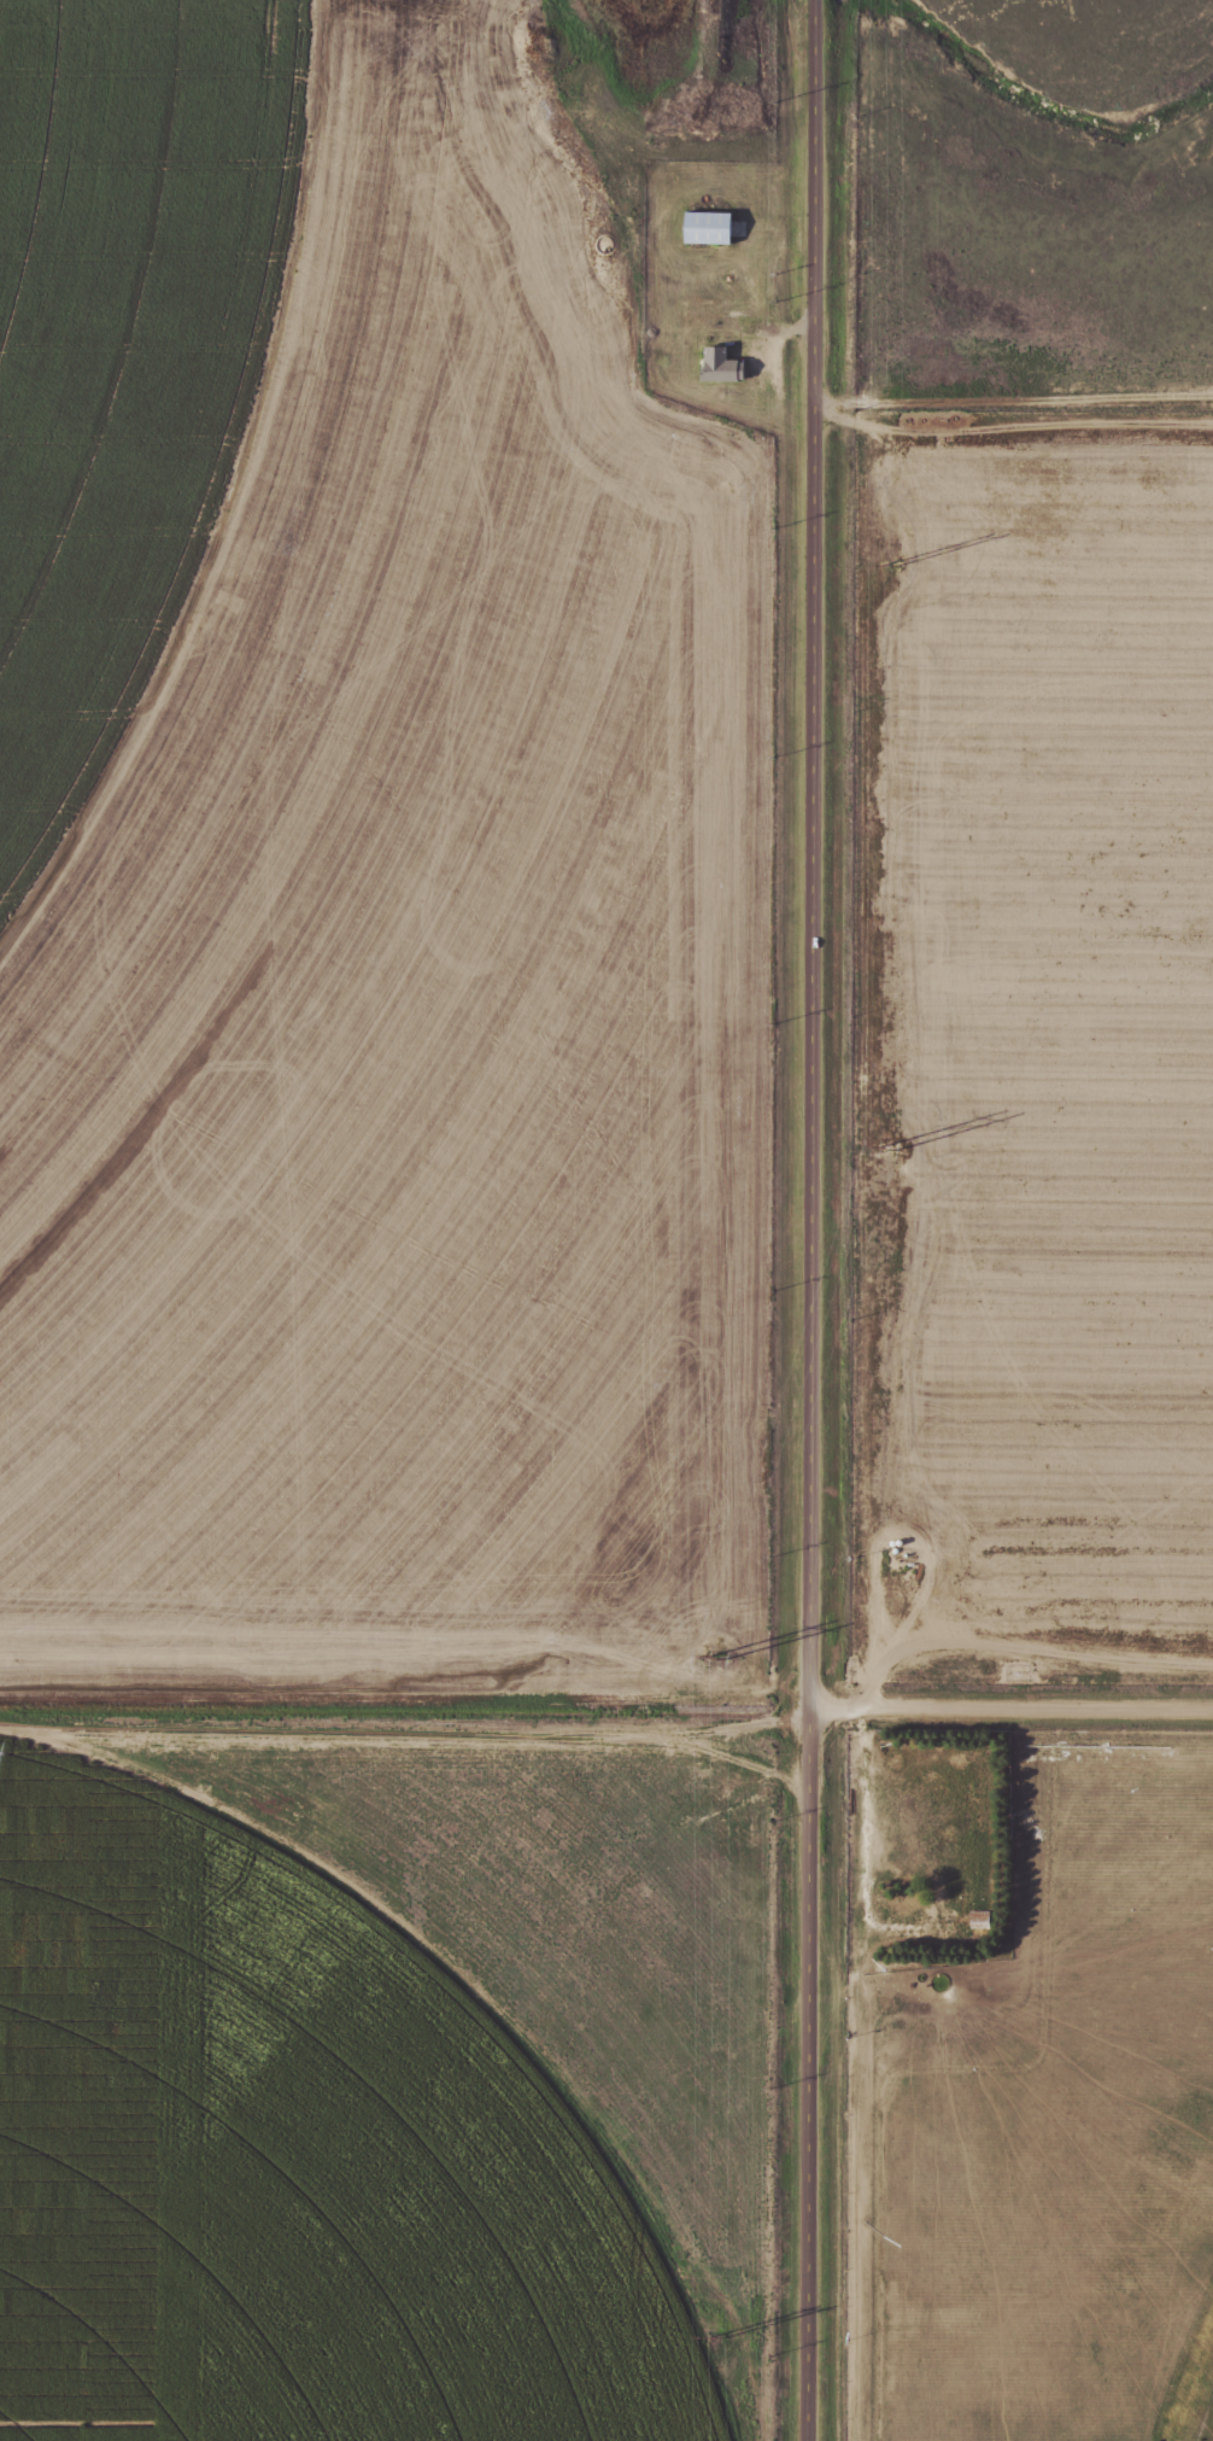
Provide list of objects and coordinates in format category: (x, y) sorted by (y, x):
power tower: (890, 565)
power tower: (884, 1140)
road: (814, 1220)
power tower: (714, 1655)
road: (1013, 1709)
power tower: (714, 2336)

